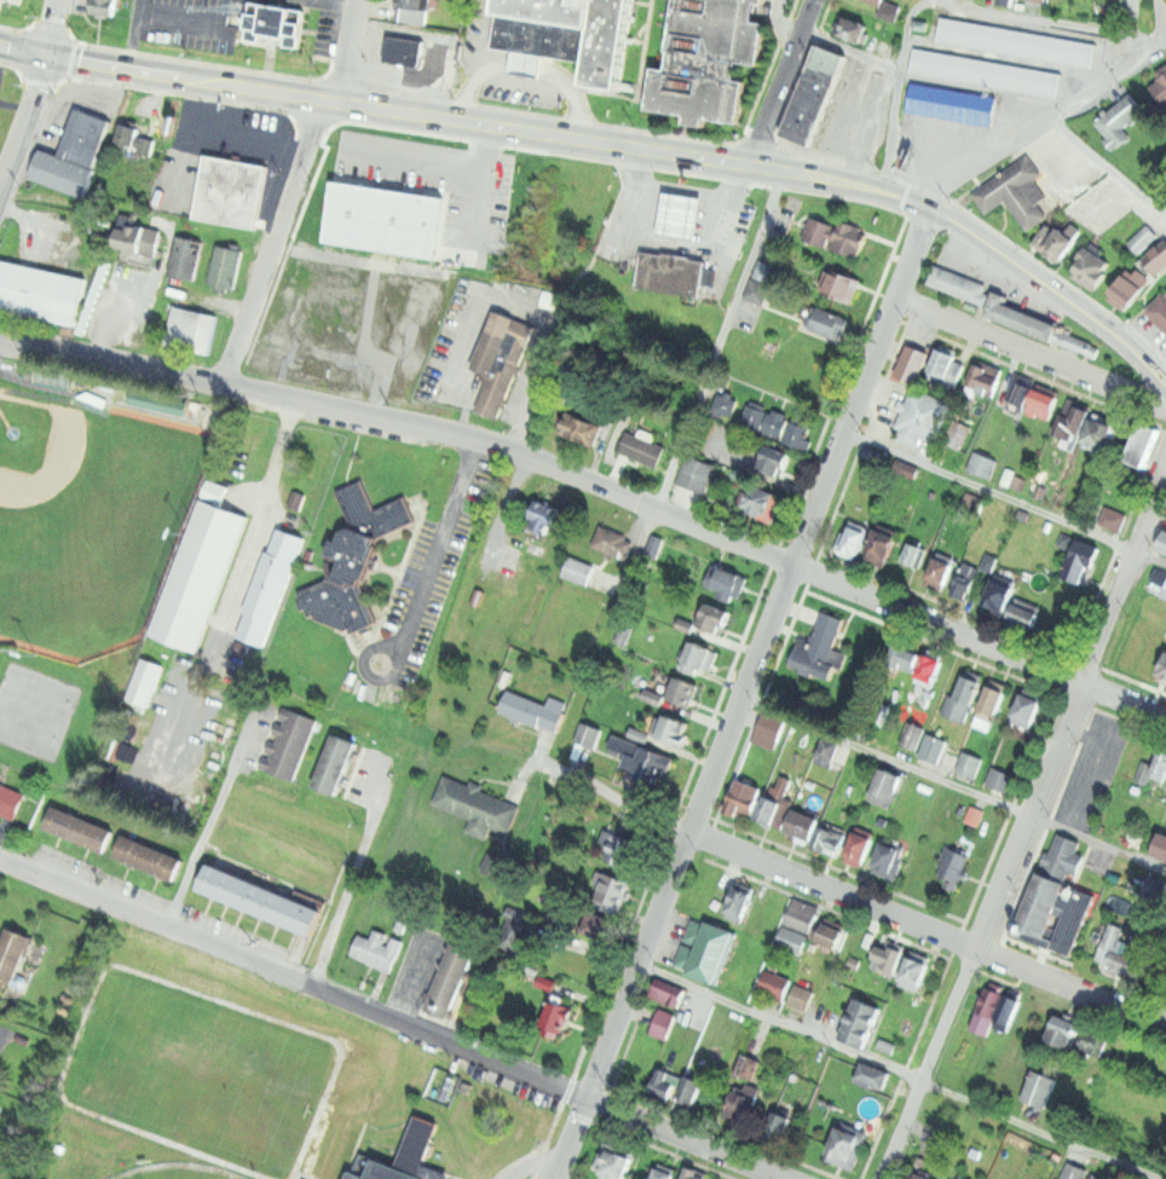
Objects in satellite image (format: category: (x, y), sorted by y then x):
building: (1043, 0)
parking lot: (12, 1)
building: (877, 1)
road: (934, 2)
road: (947, 2)
building: (1006, 2)
building: (104, 7)
building: (411, 11)
road: (1158, 15)
road: (190, 19)
parking lot: (186, 22)
road: (779, 23)
building: (273, 27)
building: (850, 27)
road: (51, 28)
road: (132, 34)
building: (565, 35)
building: (403, 51)
road: (348, 52)
building: (708, 59)
road: (527, 63)
building: (414, 80)
road: (639, 82)
road: (778, 82)
building: (1160, 86)
building: (816, 96)
building: (951, 104)
building: (0, 108)
building: (0, 110)
road: (23, 120)
road: (1043, 120)
building: (1118, 120)
building: (135, 138)
road: (613, 145)
building: (75, 150)
road: (1106, 166)
road: (640, 185)
building: (1015, 191)
building: (232, 193)
road: (726, 200)
building: (680, 215)
road: (680, 215)
building: (462, 216)
building: (836, 235)
building: (137, 238)
building: (1143, 238)
road: (273, 242)
building: (1055, 242)
building: (184, 259)
building: (224, 267)
building: (1092, 267)
building: (764, 270)
parking lot: (356, 272)
building: (671, 273)
building: (957, 282)
building: (842, 284)
building: (1127, 288)
building: (757, 290)
building: (40, 293)
building: (1159, 310)
building: (1021, 317)
building: (827, 322)
building: (190, 330)
road: (721, 341)
building: (1076, 341)
road: (1031, 352)
building: (501, 357)
building: (941, 360)
building: (913, 363)
building: (982, 377)
building: (1020, 388)
building: (1041, 401)
building: (755, 412)
building: (920, 417)
building: (1072, 420)
building: (777, 422)
building: (581, 424)
building: (798, 433)
building: (1102, 433)
building: (958, 437)
building: (1144, 444)
building: (645, 447)
building: (775, 460)
building: (981, 464)
building: (691, 480)
road: (595, 486)
building: (761, 497)
road: (1004, 497)
building: (542, 514)
building: (1022, 514)
park: (90, 516)
building: (1112, 518)
building: (852, 539)
building: (612, 541)
building: (1164, 542)
building: (884, 543)
park: (81, 545)
building: (356, 553)
building: (912, 554)
road: (433, 556)
building: (1080, 560)
building: (989, 561)
building: (942, 567)
building: (577, 568)
building: (198, 576)
road: (242, 576)
building: (725, 580)
building: (965, 580)
building: (1165, 584)
building: (271, 589)
parking lot: (419, 590)
building: (1002, 591)
building: (1027, 613)
building: (714, 615)
building: (687, 624)
building: (821, 648)
building: (699, 654)
building: (905, 654)
building: (931, 669)
building: (1162, 670)
building: (687, 690)
road: (741, 695)
building: (963, 698)
building: (991, 701)
park: (34, 709)
building: (533, 709)
building: (1027, 710)
building: (674, 728)
building: (768, 730)
building: (589, 733)
building: (910, 733)
road: (1085, 733)
building: (288, 744)
building: (931, 746)
building: (829, 750)
building: (648, 763)
building: (334, 764)
building: (969, 764)
building: (1160, 765)
road: (1093, 769)
parking lot: (1091, 770)
building: (1141, 776)
building: (999, 779)
road: (953, 784)
building: (888, 785)
road: (611, 794)
building: (743, 798)
building: (8, 802)
building: (475, 805)
building: (768, 809)
building: (974, 814)
road: (209, 817)
building: (802, 825)
road: (1027, 825)
building: (80, 828)
building: (830, 837)
building: (1136, 839)
building: (860, 843)
building: (622, 846)
building: (1160, 846)
building: (890, 856)
building: (149, 857)
building: (1063, 857)
building: (492, 863)
building: (953, 865)
road: (353, 872)
building: (610, 886)
building: (1154, 886)
building: (260, 898)
building: (739, 900)
building: (1043, 908)
building: (802, 915)
building: (589, 919)
building: (1075, 919)
road: (927, 929)
building: (508, 932)
building: (829, 934)
building: (791, 938)
building: (375, 949)
building: (706, 949)
building: (1119, 950)
building: (13, 955)
building: (889, 958)
building: (914, 971)
road: (293, 977)
building: (451, 978)
building: (774, 984)
building: (669, 992)
building: (801, 998)
building: (988, 1008)
building: (1008, 1012)
building: (553, 1018)
building: (663, 1023)
building: (860, 1023)
building: (1063, 1030)
building: (1098, 1042)
building: (887, 1045)
park: (209, 1060)
building: (747, 1064)
road: (896, 1070)
building: (873, 1074)
building: (663, 1076)
building: (692, 1087)
building: (1040, 1088)
building: (741, 1103)
building: (780, 1123)
road: (682, 1139)
building: (847, 1144)
building: (411, 1156)
building: (613, 1161)
road: (532, 1166)
park: (175, 1171)
building: (1074, 1172)
building: (663, 1173)
building: (691, 1174)
building: (923, 1175)
building: (959, 1177)

